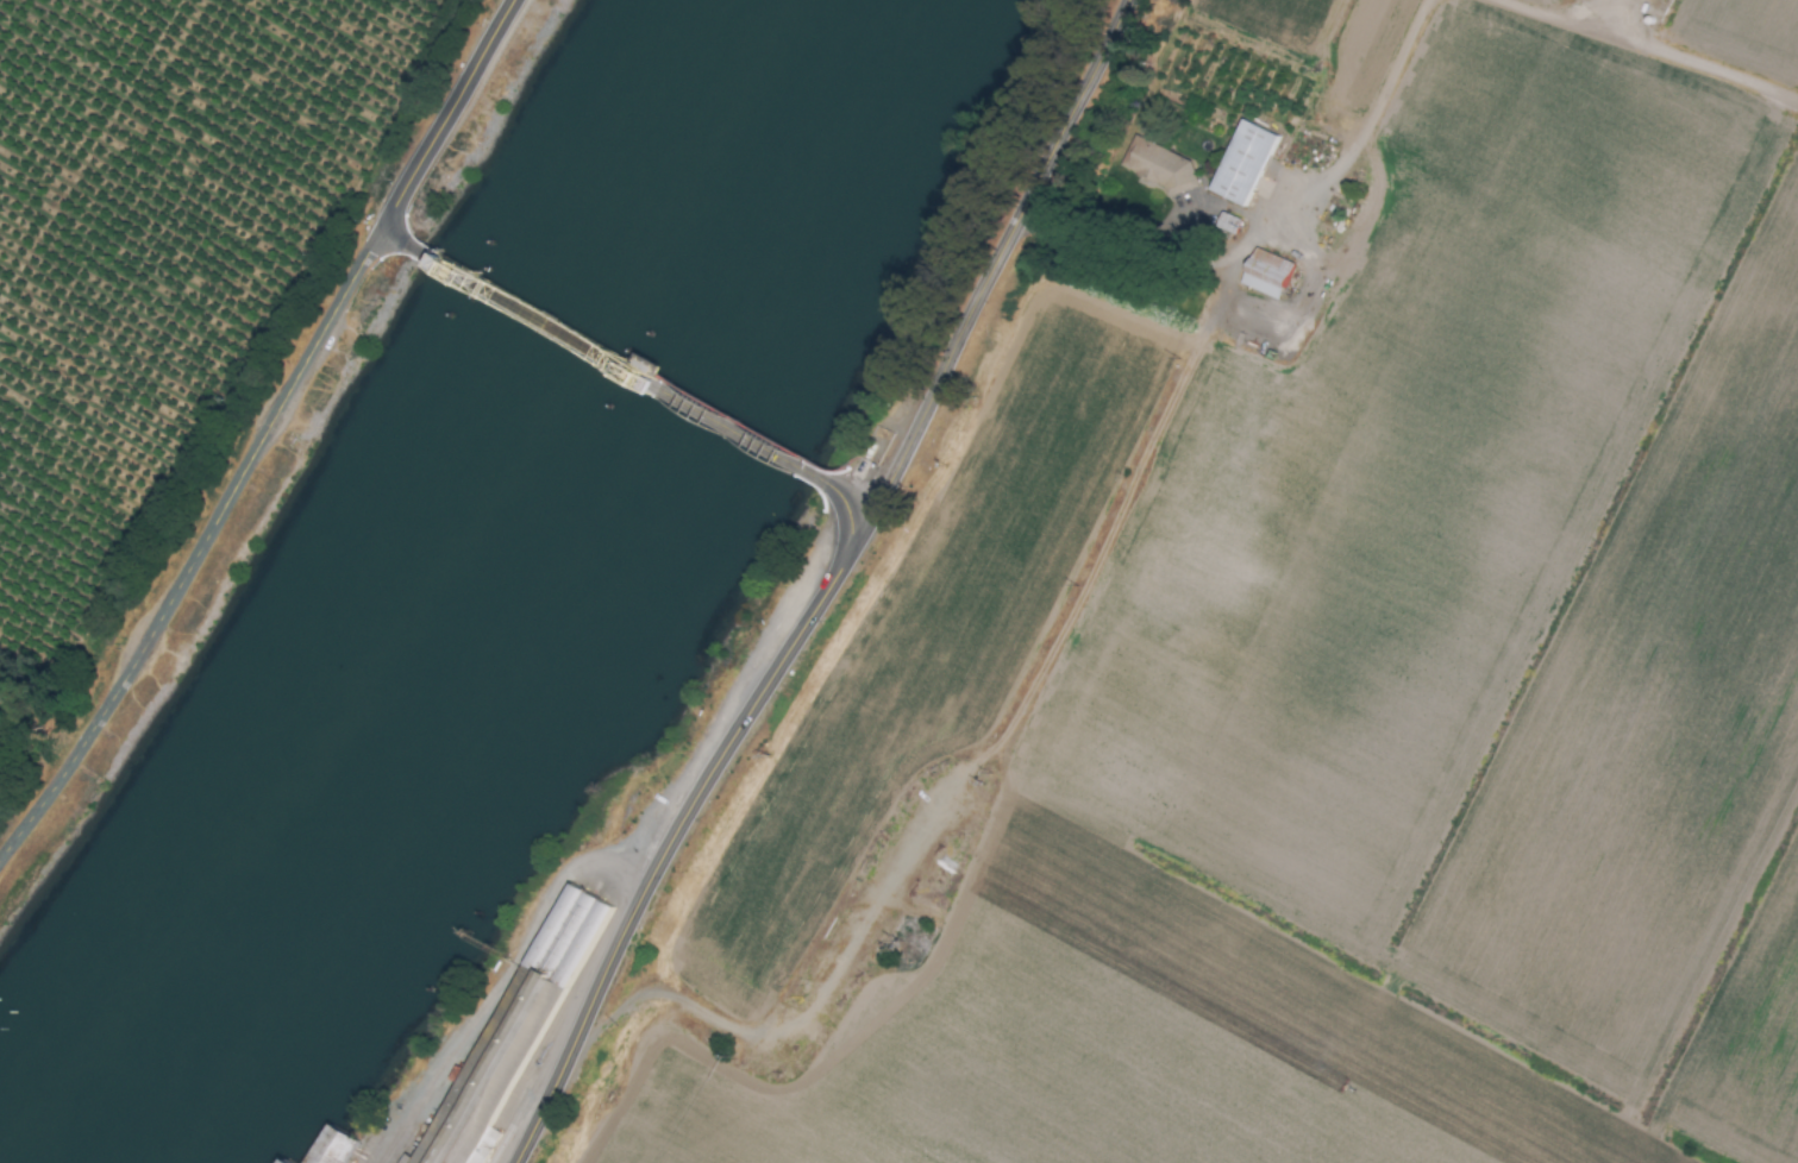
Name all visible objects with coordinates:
road: (1646, 52)
road: (1379, 90)
road: (457, 117)
building: (1241, 163)
building: (1155, 164)
building: (1226, 224)
road: (402, 240)
road: (1007, 253)
road: (1191, 259)
building: (1264, 274)
crop: (165, 289)
road: (624, 365)
road: (851, 494)
road: (205, 558)
river: (484, 612)
crop: (1283, 643)
road: (682, 828)
building: (330, 1148)
building: (280, 1161)

